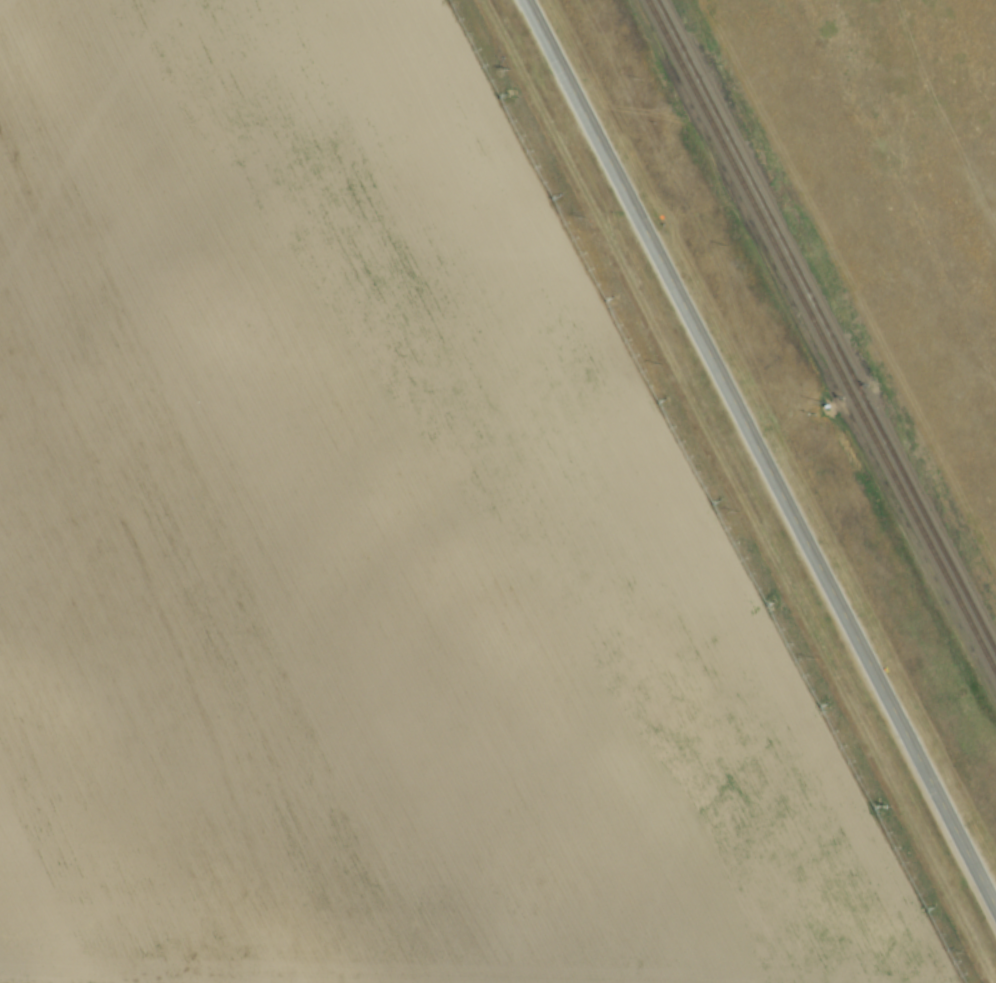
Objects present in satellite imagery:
railway: (829, 321)
railway: (823, 334)
road: (764, 449)
crop: (374, 549)

